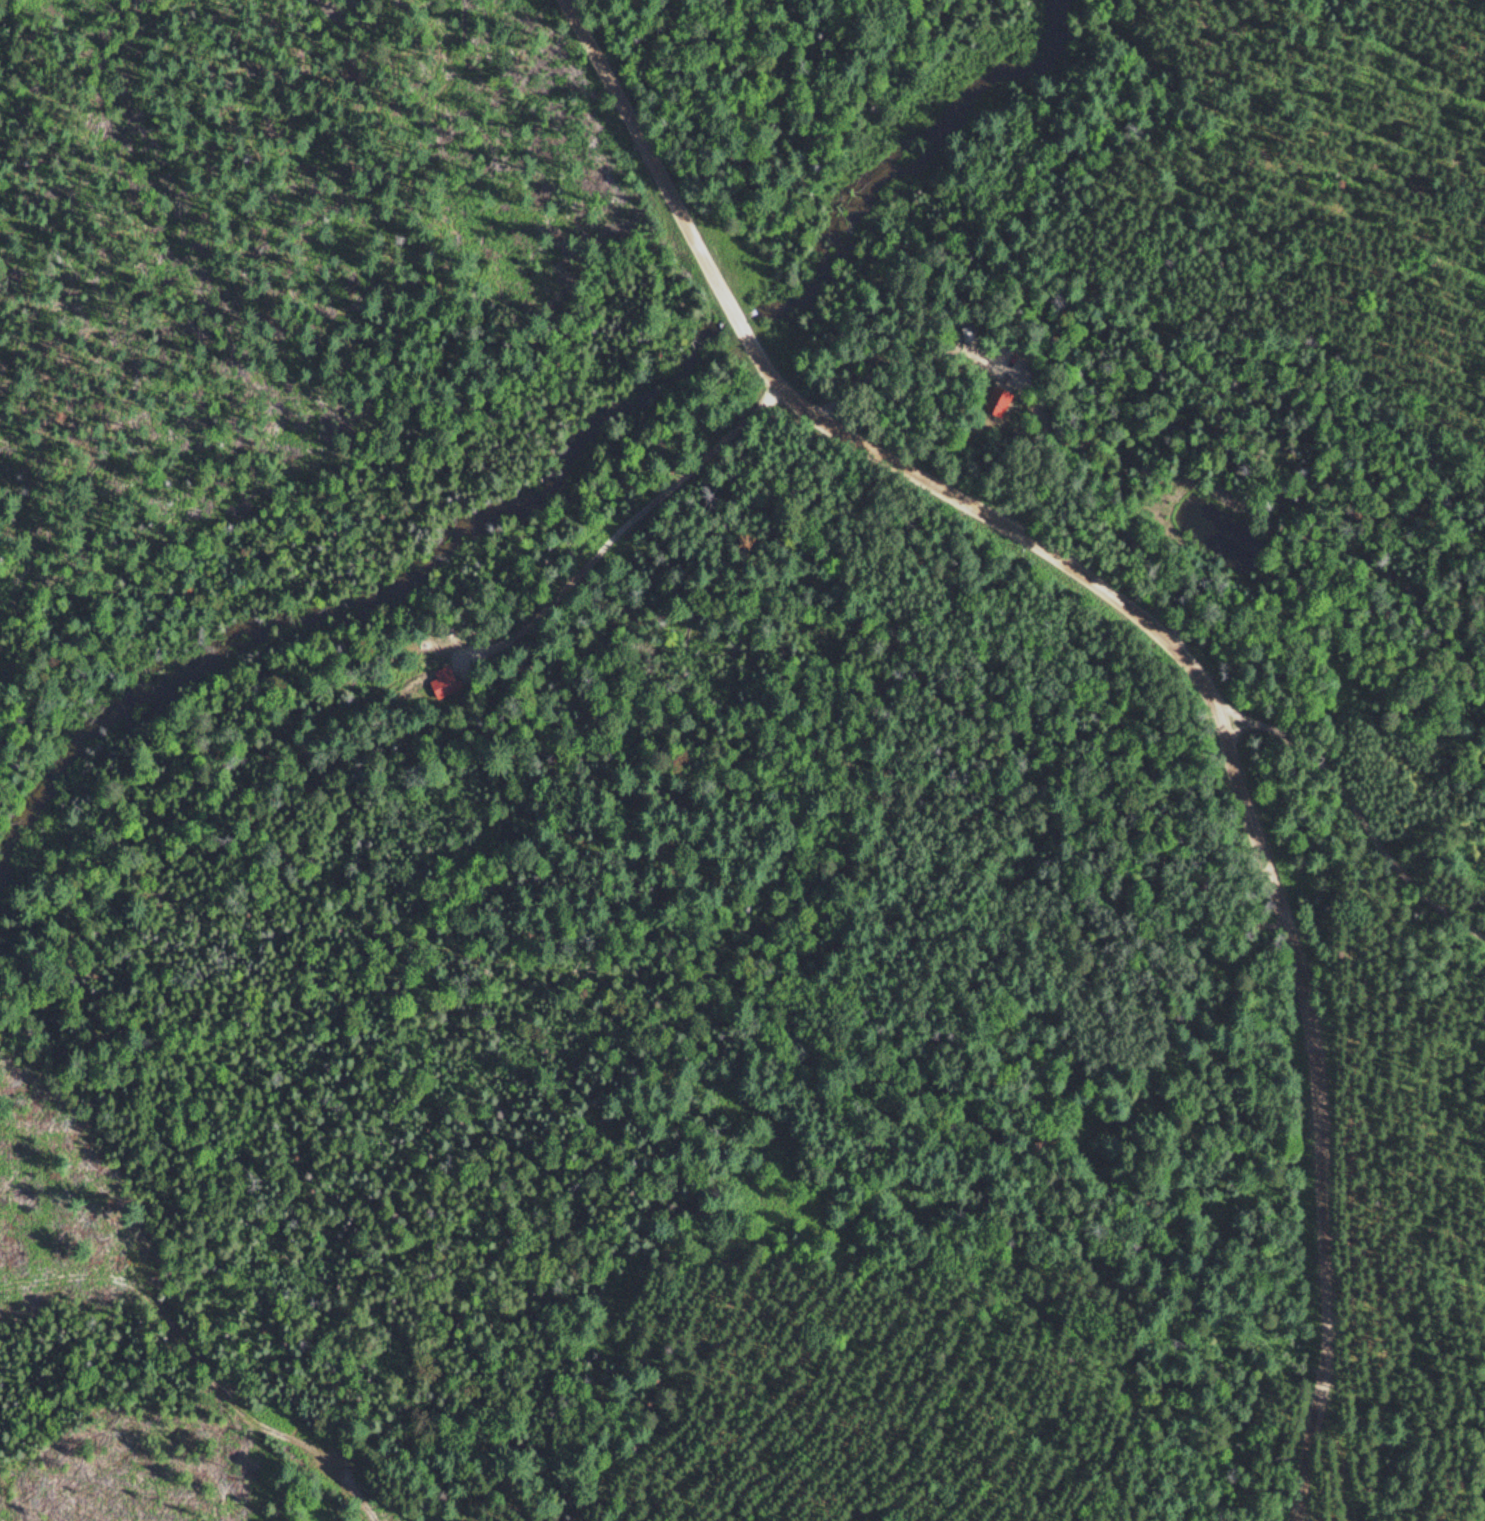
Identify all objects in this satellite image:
road: (669, 196)
building: (999, 400)
road: (634, 520)
building: (442, 673)
road: (1356, 801)
road: (1261, 841)
road: (226, 1396)
road: (1323, 1481)

